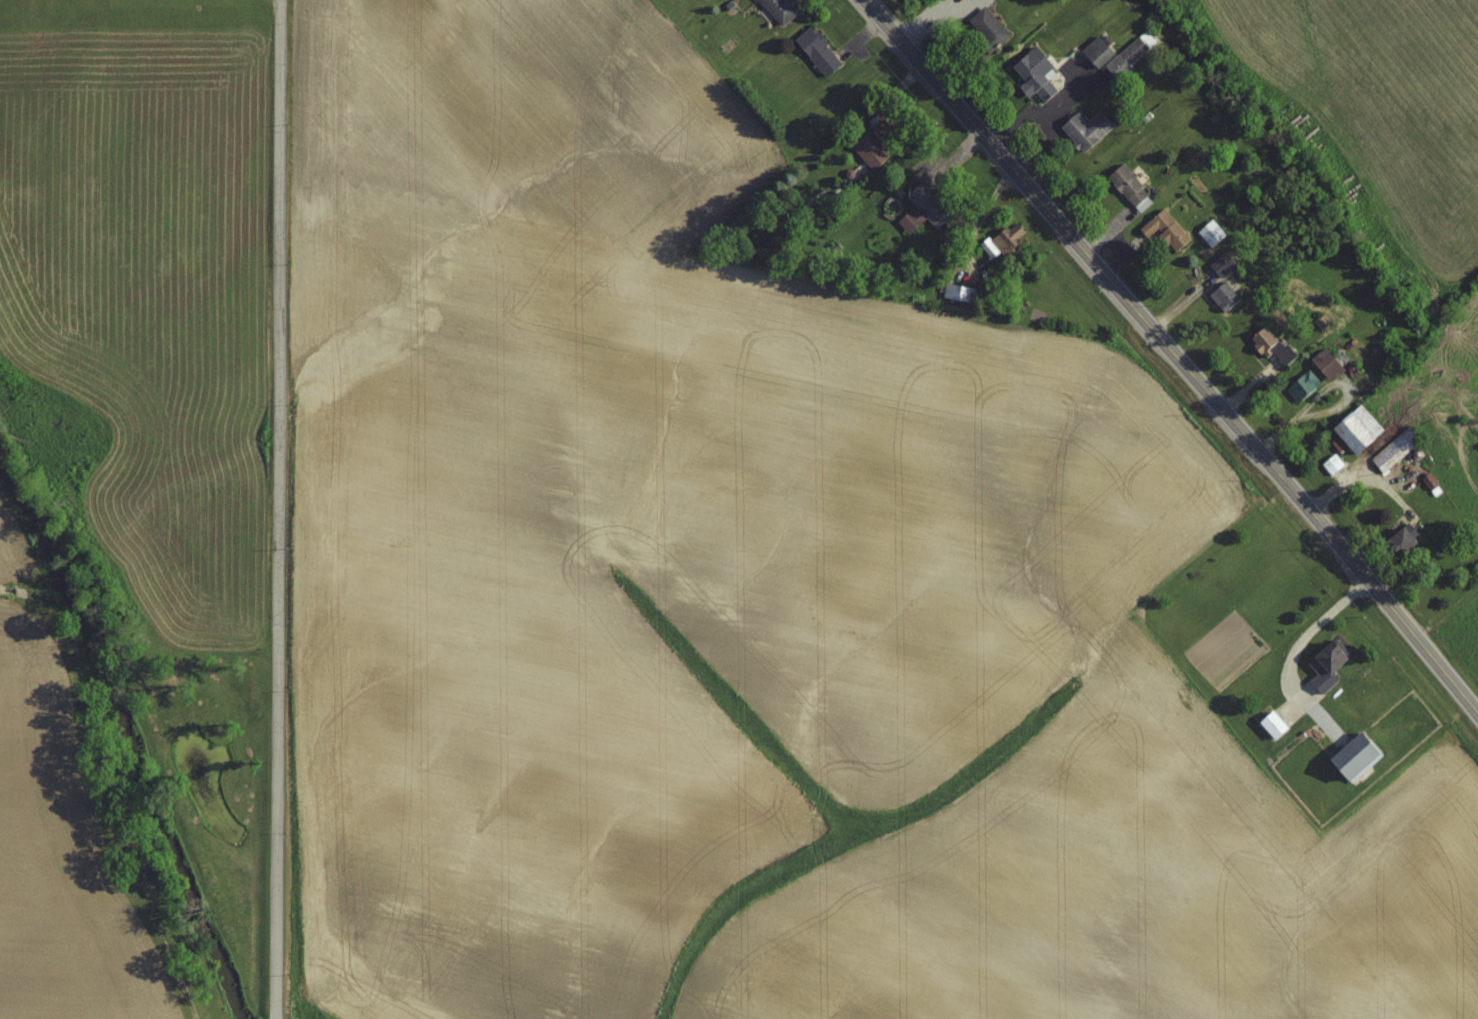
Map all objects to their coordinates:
crop: (142, 303)
road: (1174, 355)
road: (275, 509)
crop: (757, 599)
crop: (55, 830)

